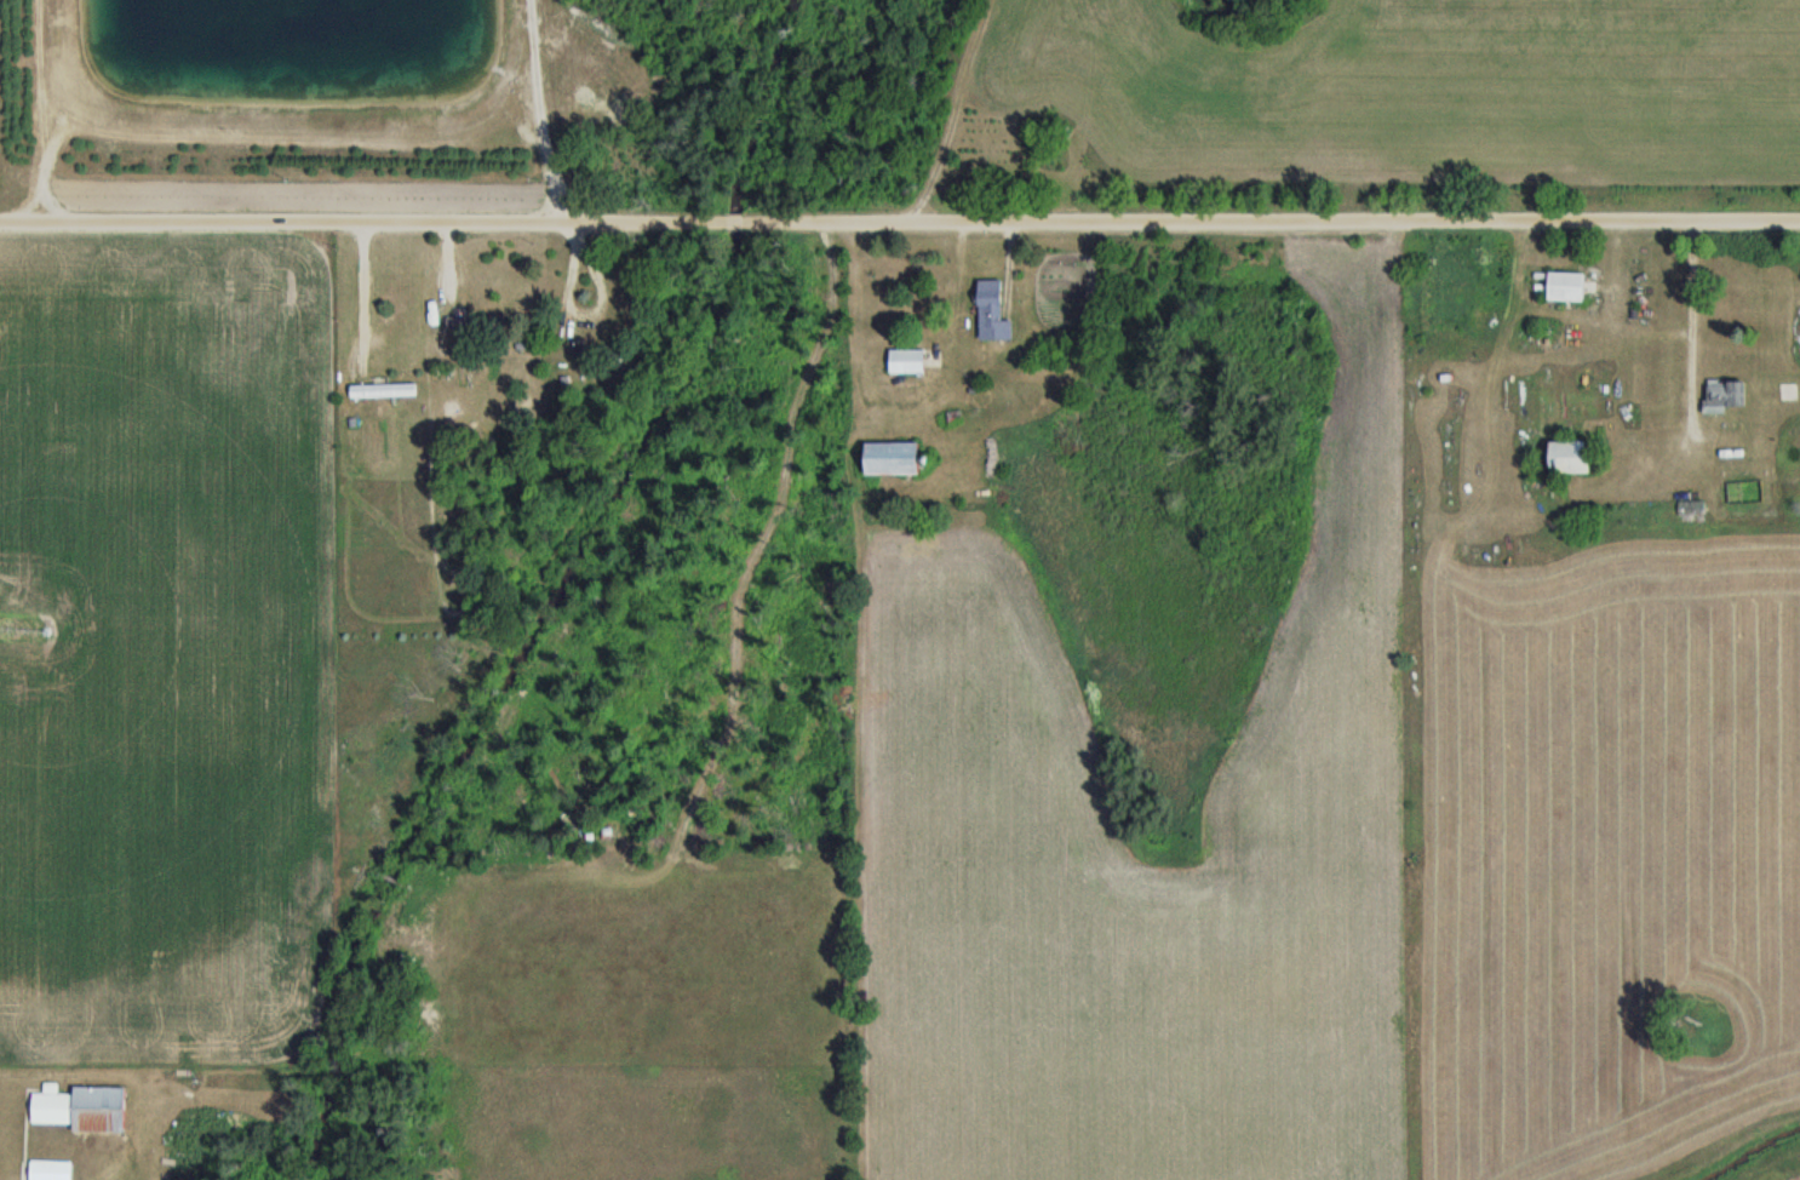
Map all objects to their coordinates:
road: (733, 217)
road: (361, 218)
road: (1271, 218)
building: (1567, 287)
road: (957, 313)
building: (993, 313)
building: (907, 360)
building: (384, 391)
building: (1727, 396)
building: (895, 458)
building: (1575, 458)
building: (1693, 509)
building: (82, 1109)
building: (51, 1170)

